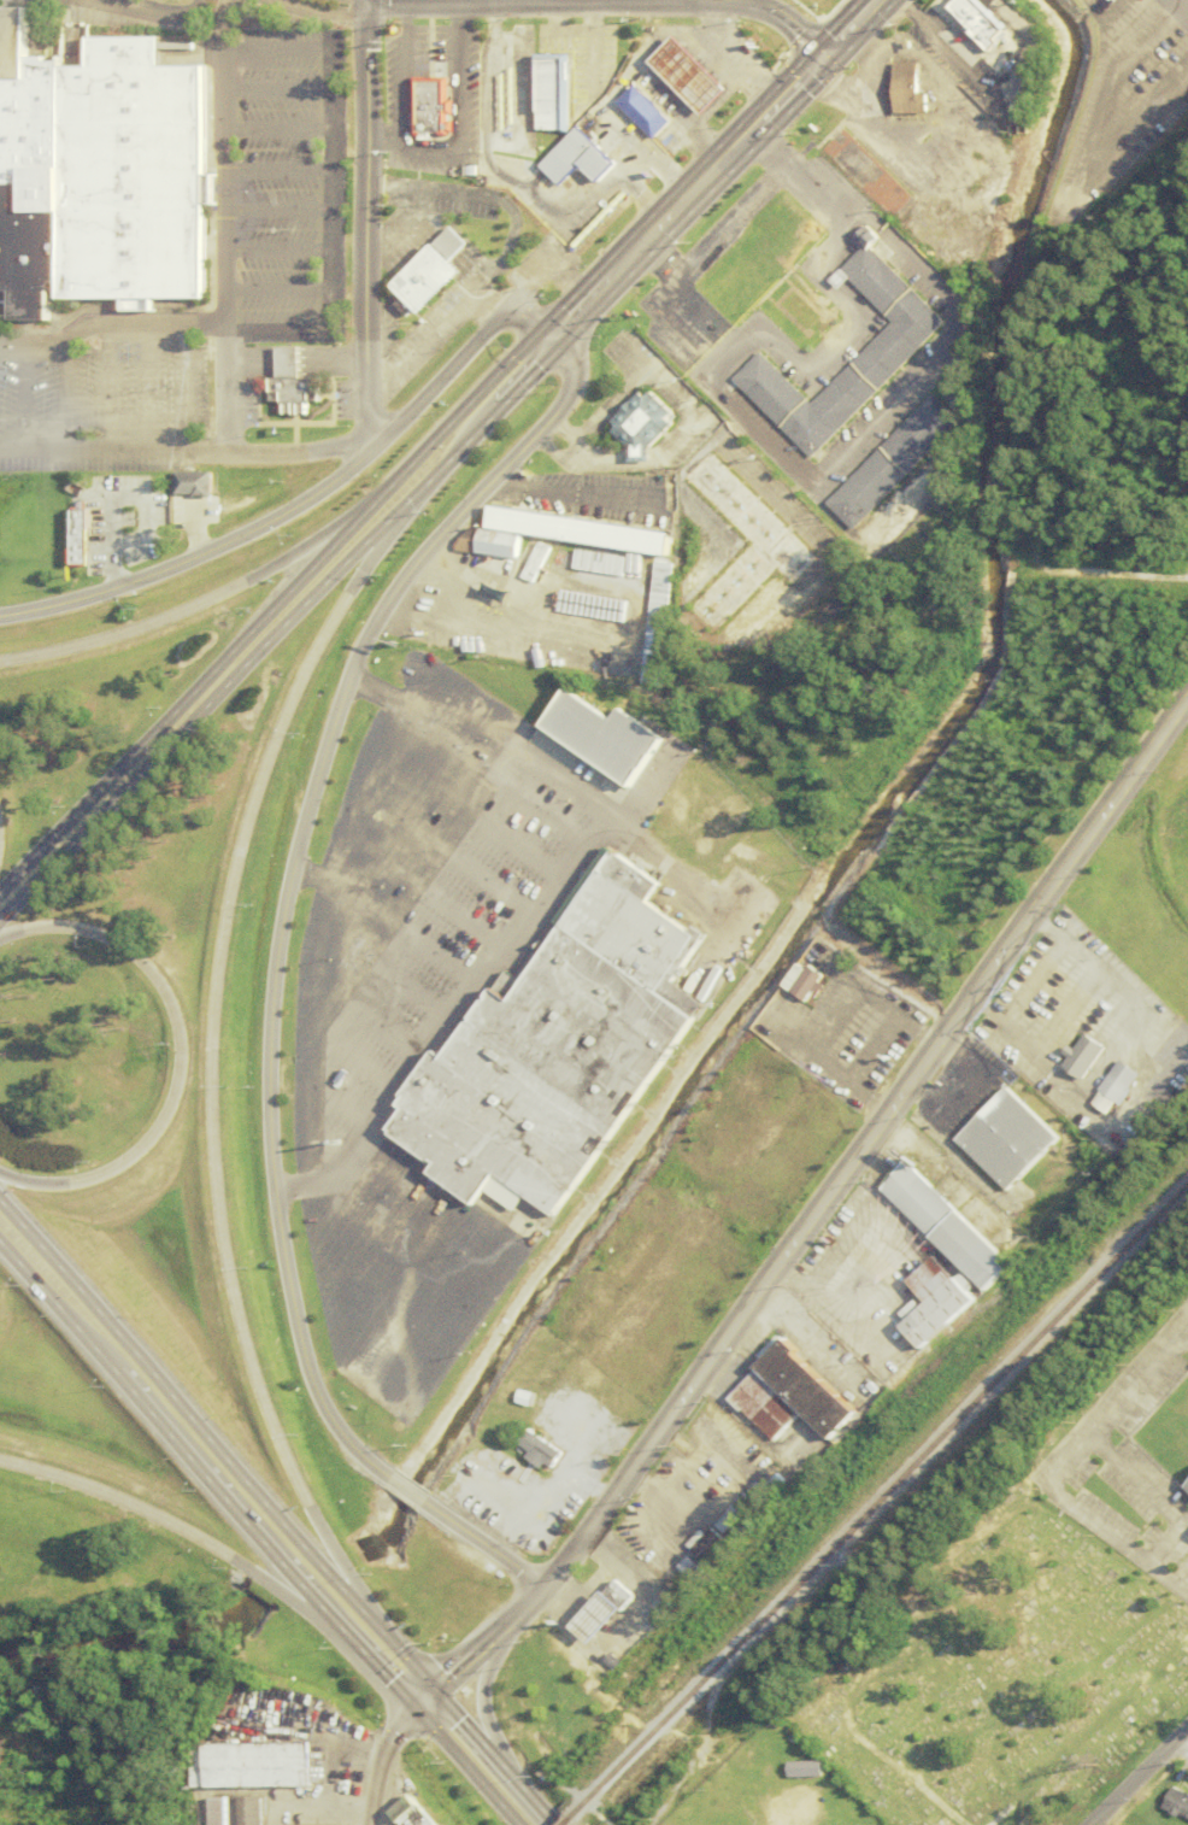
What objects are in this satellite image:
parking lot: (163, 0)
road: (355, 2)
road: (361, 2)
road: (601, 2)
road: (1177, 8)
road: (151, 10)
road: (318, 11)
road: (402, 12)
road: (458, 13)
building: (987, 20)
road: (851, 29)
road: (274, 49)
traffic signals: (823, 58)
building: (689, 75)
gas station: (689, 75)
building: (911, 89)
building: (552, 93)
building: (431, 108)
building: (643, 113)
building: (507, 129)
road: (382, 137)
road: (428, 148)
building: (576, 157)
road: (219, 162)
road: (275, 170)
building: (100, 174)
parking lot: (292, 188)
road: (329, 190)
road: (686, 196)
road: (275, 210)
building: (590, 213)
road: (363, 223)
road: (889, 239)
road: (696, 254)
building: (760, 259)
road: (657, 260)
building: (433, 272)
road: (107, 325)
road: (276, 334)
traffic signals: (549, 336)
building: (902, 336)
road: (452, 366)
building: (292, 382)
road: (105, 388)
road: (143, 388)
road: (223, 388)
parking lot: (102, 409)
road: (447, 421)
building: (642, 424)
road: (366, 447)
road: (93, 450)
road: (206, 451)
road: (293, 453)
road: (841, 459)
building: (894, 463)
building: (192, 483)
building: (745, 510)
building: (580, 529)
building: (487, 542)
road: (298, 548)
road: (364, 556)
road: (195, 557)
building: (605, 563)
building: (658, 622)
road: (278, 626)
road: (123, 629)
road: (371, 693)
road: (178, 700)
road: (500, 730)
building: (606, 737)
road: (493, 776)
river: (904, 798)
road: (310, 876)
road: (286, 878)
road: (6, 931)
road: (401, 933)
building: (807, 984)
road: (446, 1013)
road: (829, 1021)
road: (170, 1029)
road: (206, 1046)
building: (561, 1050)
building: (1082, 1056)
building: (1119, 1082)
building: (1105, 1103)
building: (1010, 1139)
road: (866, 1142)
road: (30, 1183)
building: (948, 1226)
road: (839, 1248)
building: (937, 1280)
road: (42, 1291)
road: (833, 1309)
building: (942, 1314)
road: (812, 1337)
building: (811, 1390)
building: (766, 1406)
road: (182, 1408)
building: (539, 1450)
road: (1058, 1472)
road: (208, 1479)
building: (1187, 1487)
road: (404, 1491)
river: (405, 1491)
road: (119, 1500)
railway: (877, 1502)
river: (381, 1528)
road: (481, 1545)
building: (708, 1547)
road: (336, 1559)
river: (308, 1574)
road: (283, 1588)
building: (617, 1595)
building: (596, 1616)
gas station: (596, 1616)
river: (133, 1637)
road: (484, 1639)
road: (396, 1651)
road: (371, 1665)
park: (999, 1676)
traffic signals: (429, 1691)
road: (476, 1694)
road: (419, 1700)
traffic signals: (410, 1709)
road: (394, 1723)
road: (458, 1724)
road: (1178, 1749)
building: (255, 1765)
road: (460, 1767)
building: (806, 1770)
road: (1139, 1776)
road: (369, 1782)
road: (516, 1790)
building: (1175, 1805)
building: (246, 1811)
building: (214, 1812)
building: (405, 1813)
railway: (567, 1823)

